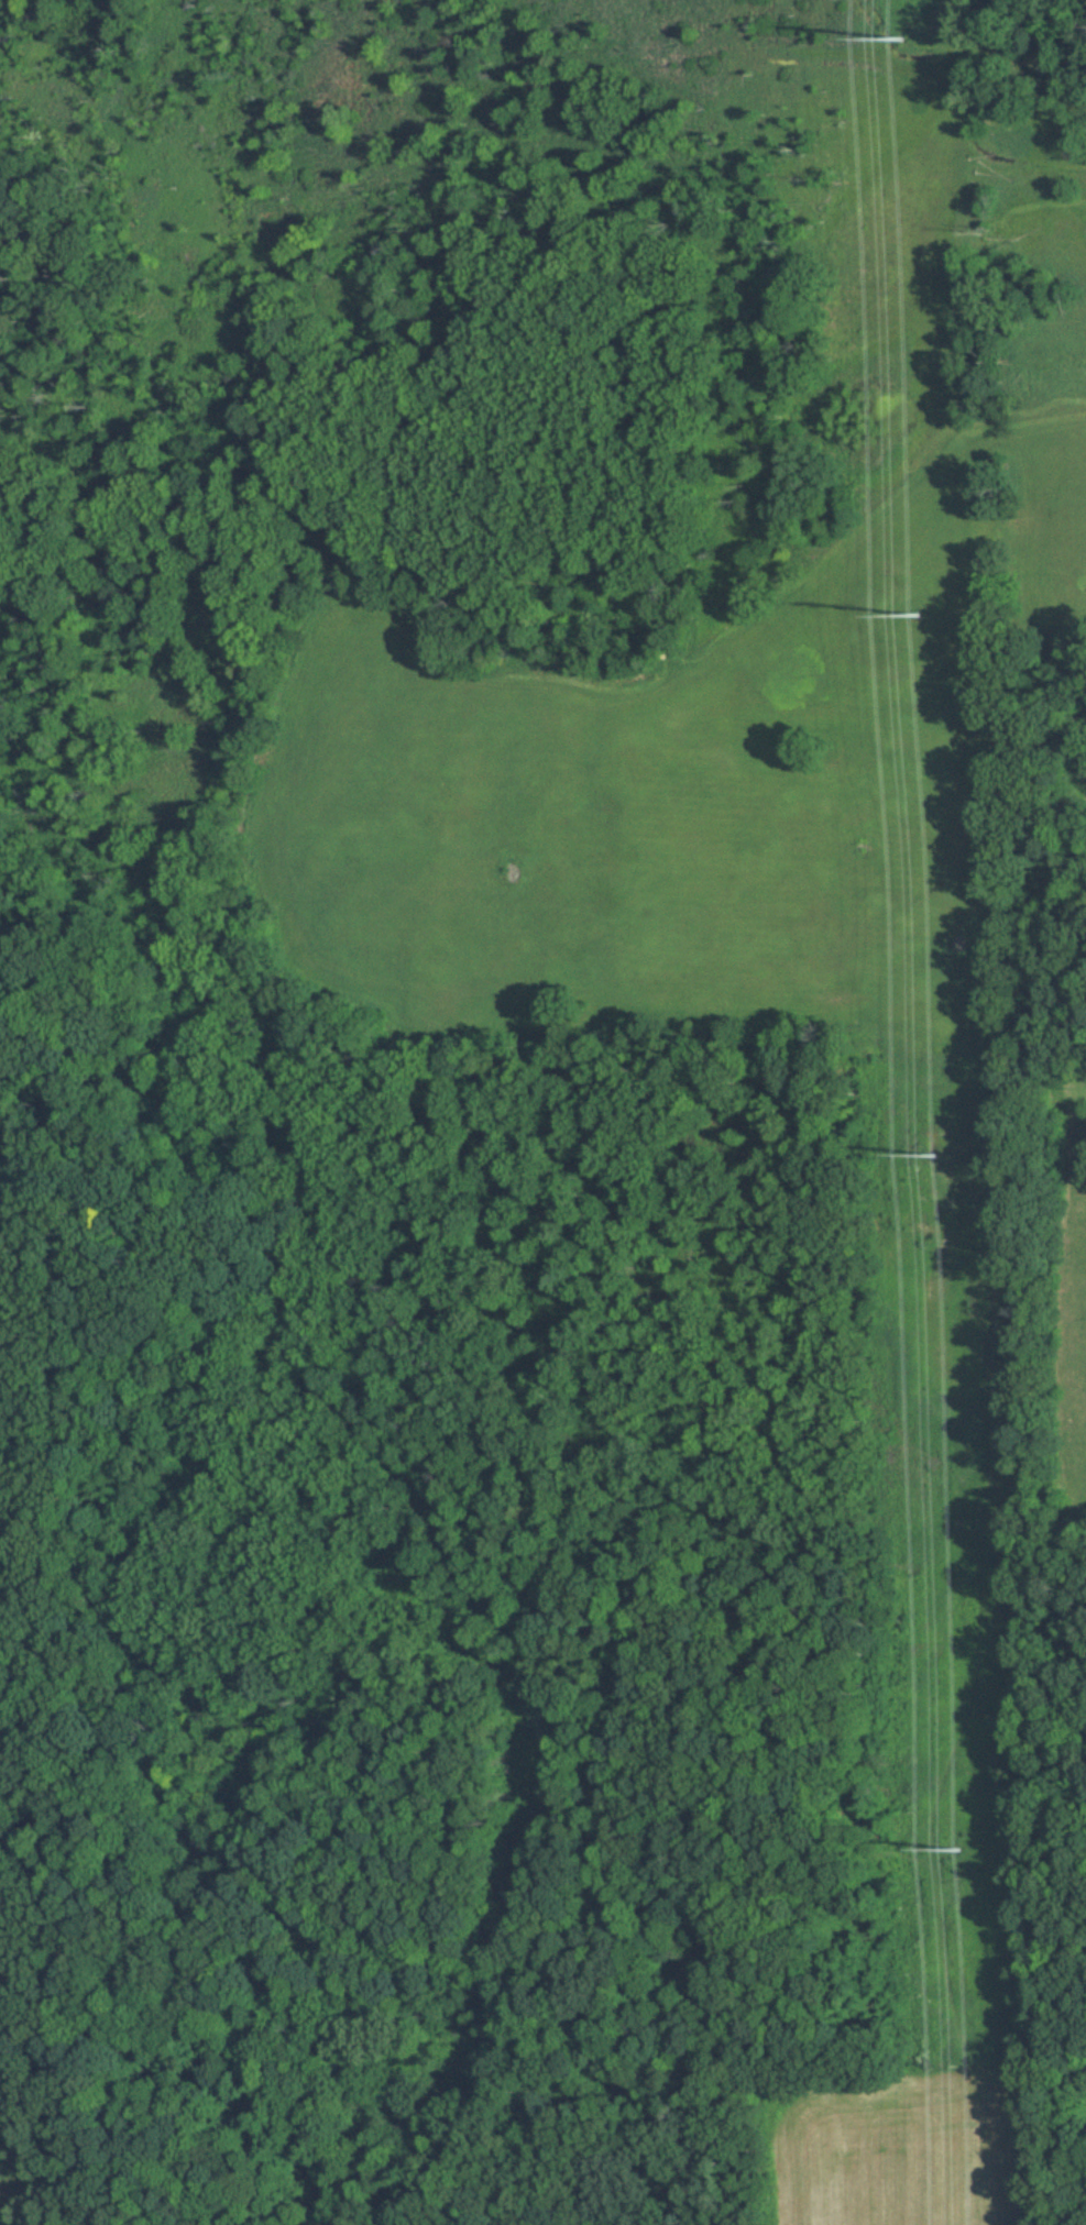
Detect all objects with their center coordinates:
power tower: (902, 37)
power tower: (920, 616)
power tower: (935, 1155)
power tower: (958, 1848)

